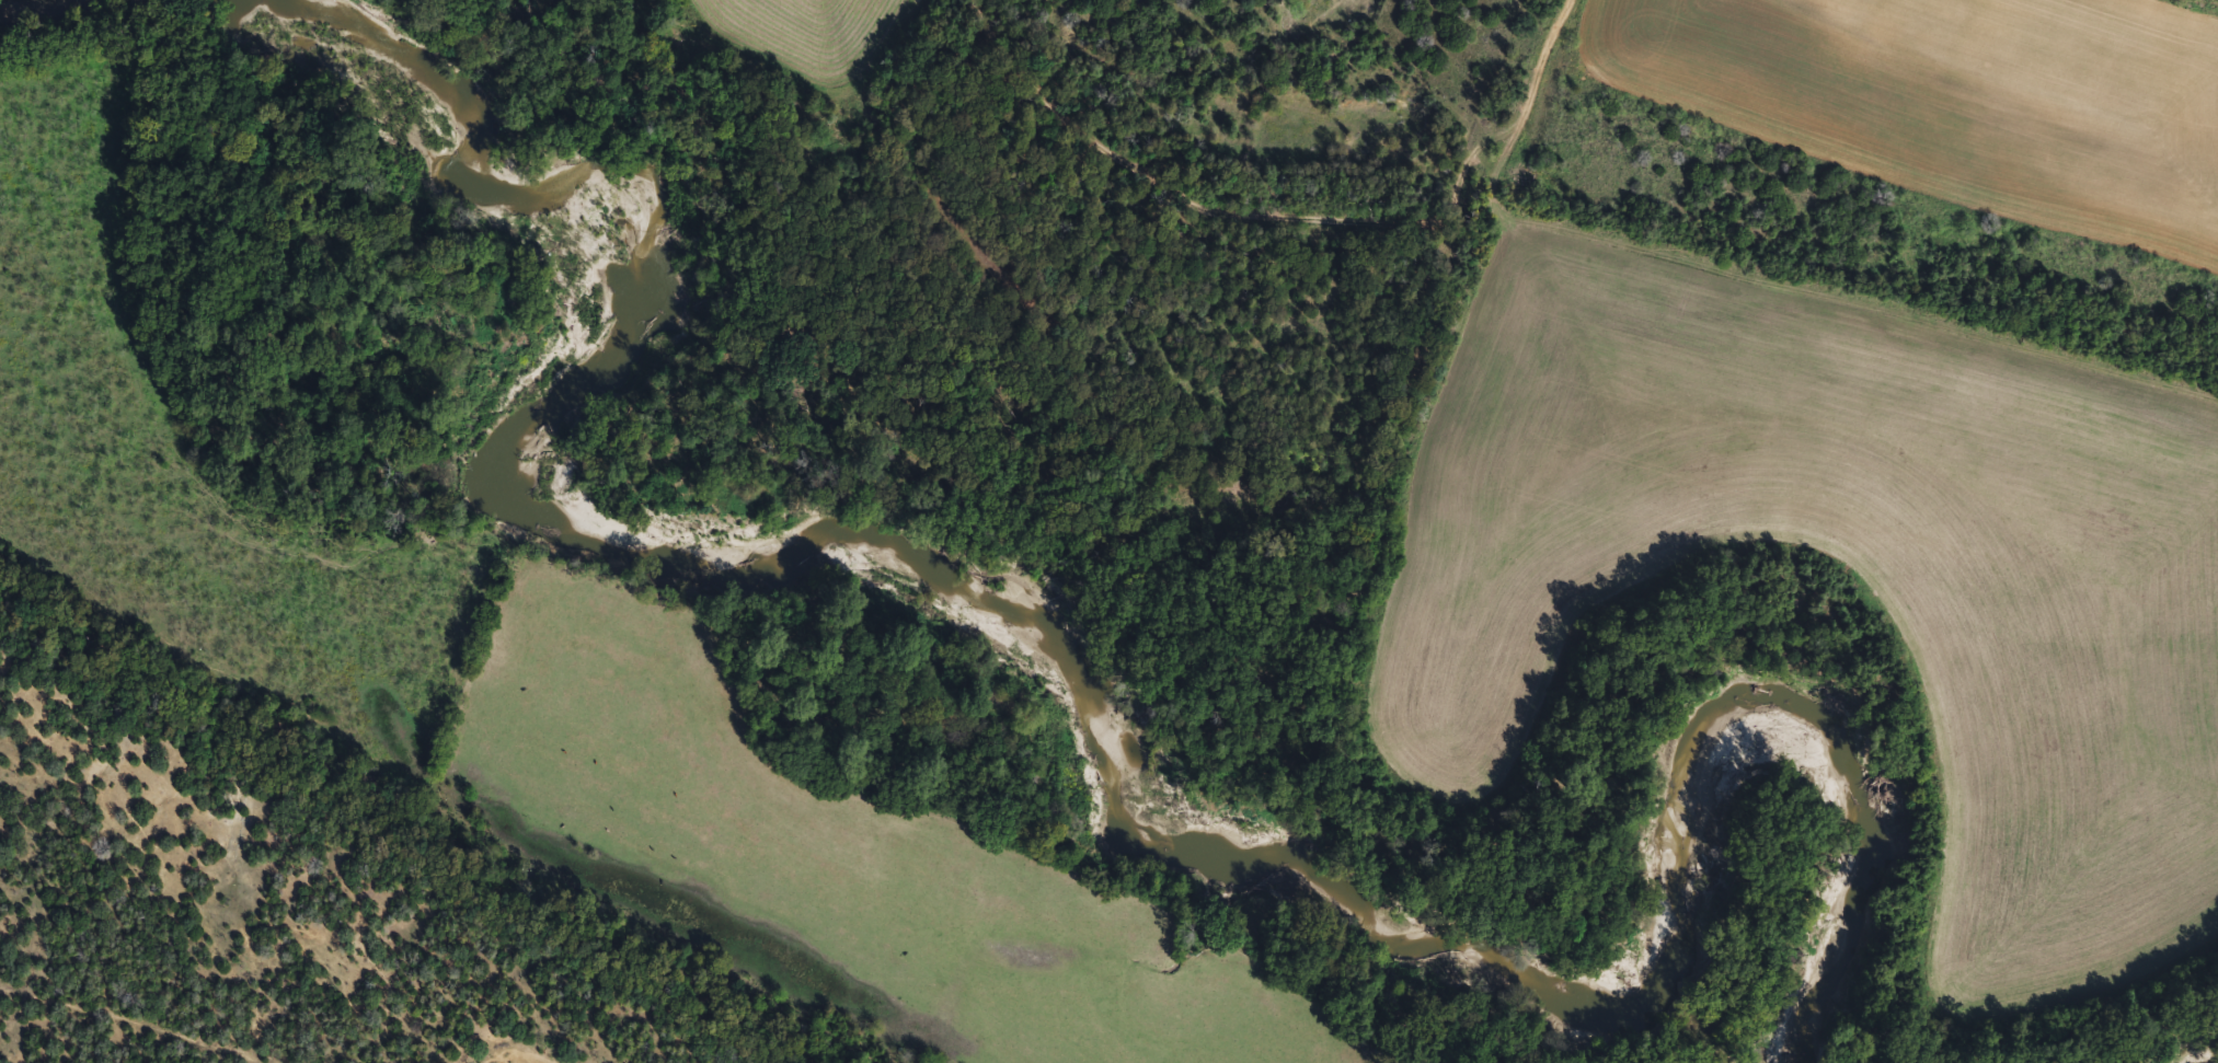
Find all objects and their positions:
river: (1057, 714)

